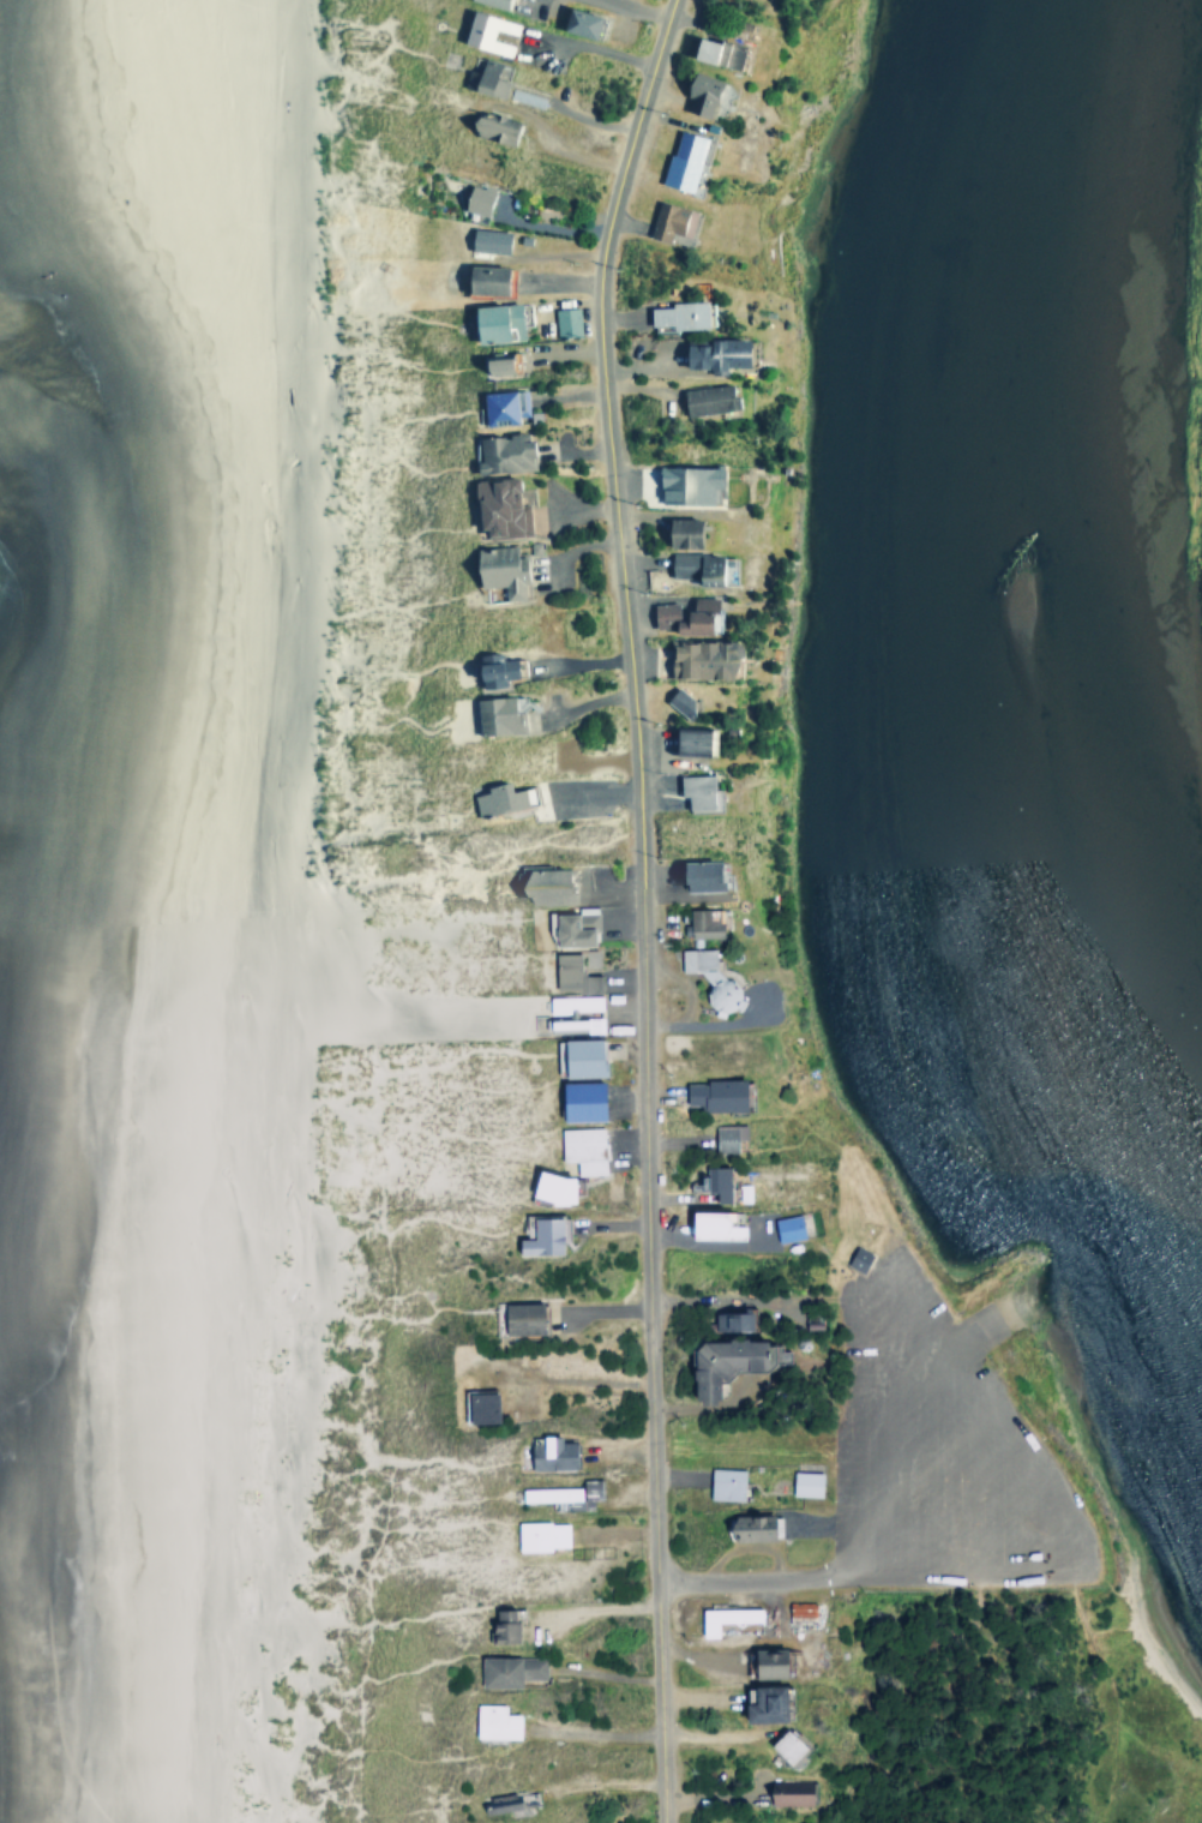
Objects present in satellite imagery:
building: (488, 2)
building: (577, 20)
road: (373, 23)
building: (481, 30)
building: (719, 46)
building: (481, 77)
road: (371, 78)
building: (698, 90)
building: (486, 126)
building: (681, 160)
building: (473, 198)
building: (668, 220)
building: (485, 239)
building: (480, 277)
road: (377, 307)
building: (677, 313)
building: (493, 320)
building: (564, 320)
road: (387, 353)
building: (711, 353)
building: (492, 364)
building: (705, 397)
building: (499, 404)
road: (389, 419)
building: (499, 451)
road: (390, 456)
building: (684, 482)
building: (495, 506)
building: (679, 530)
road: (408, 533)
building: (692, 565)
building: (495, 568)
road: (407, 604)
building: (685, 614)
road: (625, 630)
building: (699, 658)
building: (492, 668)
road: (410, 670)
river: (982, 691)
building: (677, 700)
building: (493, 715)
road: (411, 719)
building: (686, 740)
building: (696, 791)
building: (498, 797)
building: (696, 874)
building: (541, 884)
building: (697, 923)
building: (569, 928)
building: (569, 973)
building: (708, 979)
building: (573, 1011)
building: (575, 1057)
building: (709, 1093)
building: (573, 1101)
building: (725, 1135)
building: (579, 1147)
building: (713, 1181)
building: (545, 1187)
road: (410, 1218)
building: (708, 1225)
building: (783, 1227)
building: (537, 1236)
building: (853, 1258)
road: (998, 1315)
road: (401, 1317)
building: (515, 1317)
building: (729, 1320)
building: (723, 1362)
building: (474, 1407)
building: (546, 1452)
road: (403, 1457)
building: (801, 1482)
building: (722, 1483)
road: (1053, 1485)
building: (563, 1493)
road: (429, 1500)
road: (434, 1522)
building: (746, 1527)
building: (539, 1534)
road: (657, 1547)
building: (798, 1607)
road: (398, 1617)
building: (721, 1617)
building: (735, 1625)
building: (499, 1626)
building: (759, 1660)
building: (505, 1669)
road: (386, 1673)
building: (756, 1699)
building: (491, 1721)
building: (781, 1744)
road: (386, 1746)
building: (786, 1791)
road: (375, 1811)

